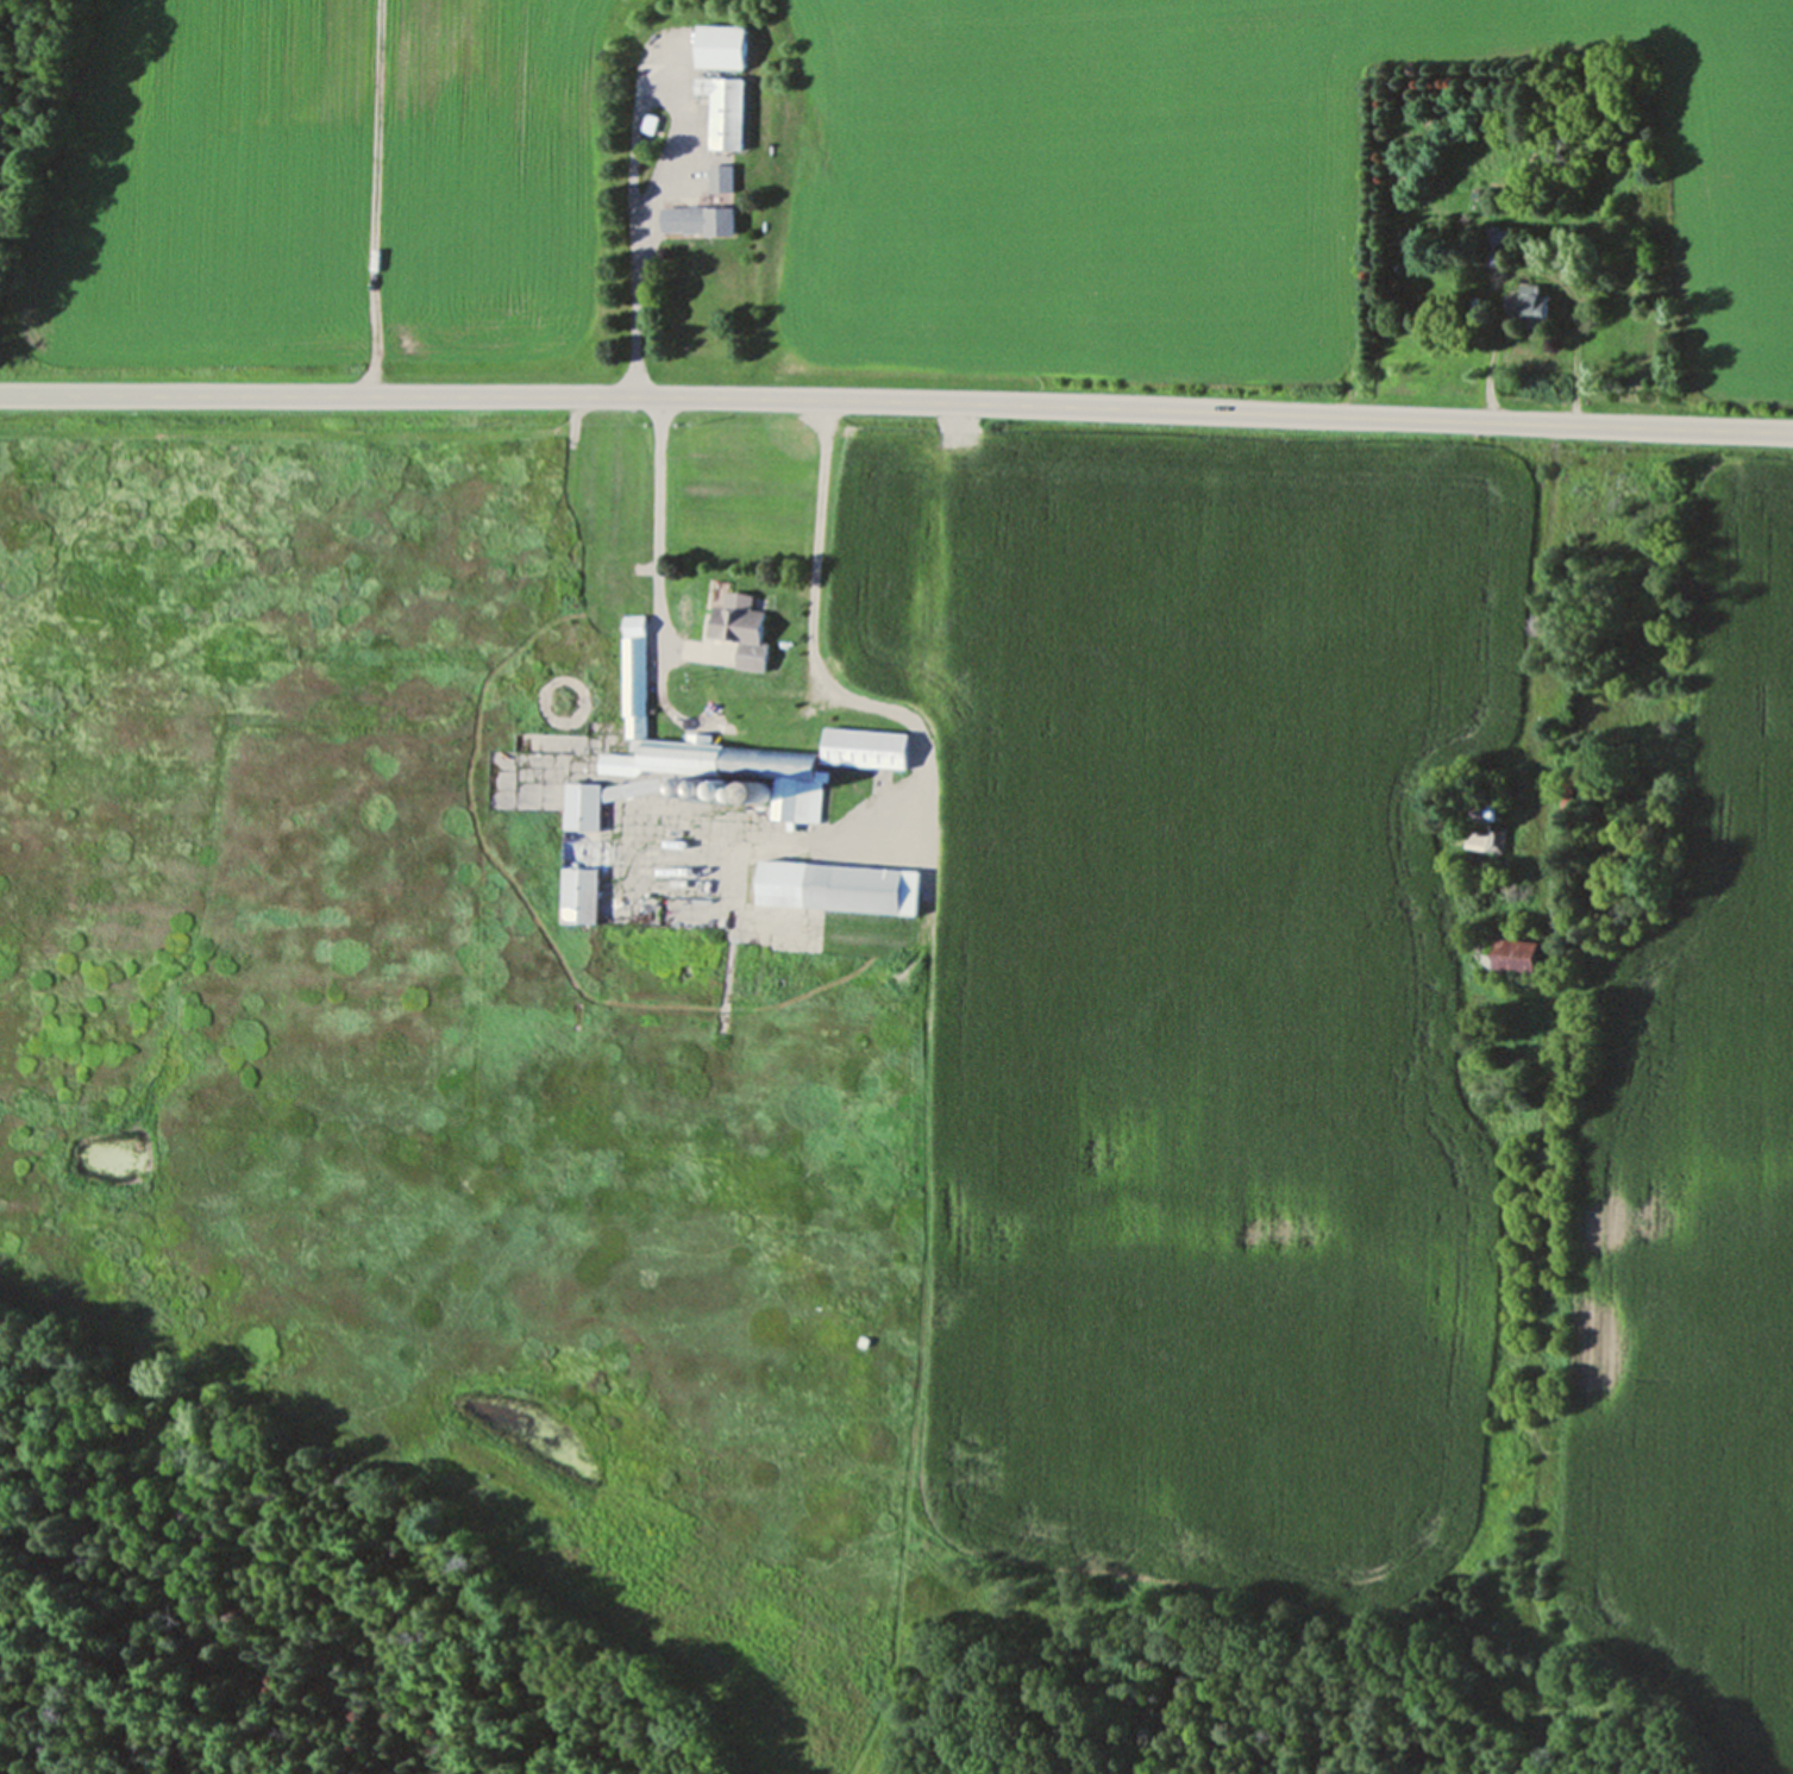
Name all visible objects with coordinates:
building: (726, 46)
building: (728, 109)
building: (725, 176)
building: (704, 219)
building: (1540, 301)
road: (634, 308)
road: (1492, 370)
road: (896, 400)
road: (658, 539)
road: (815, 544)
building: (747, 629)
building: (847, 642)
building: (698, 776)
building: (1571, 802)
building: (1499, 836)
building: (807, 882)
building: (1530, 955)

